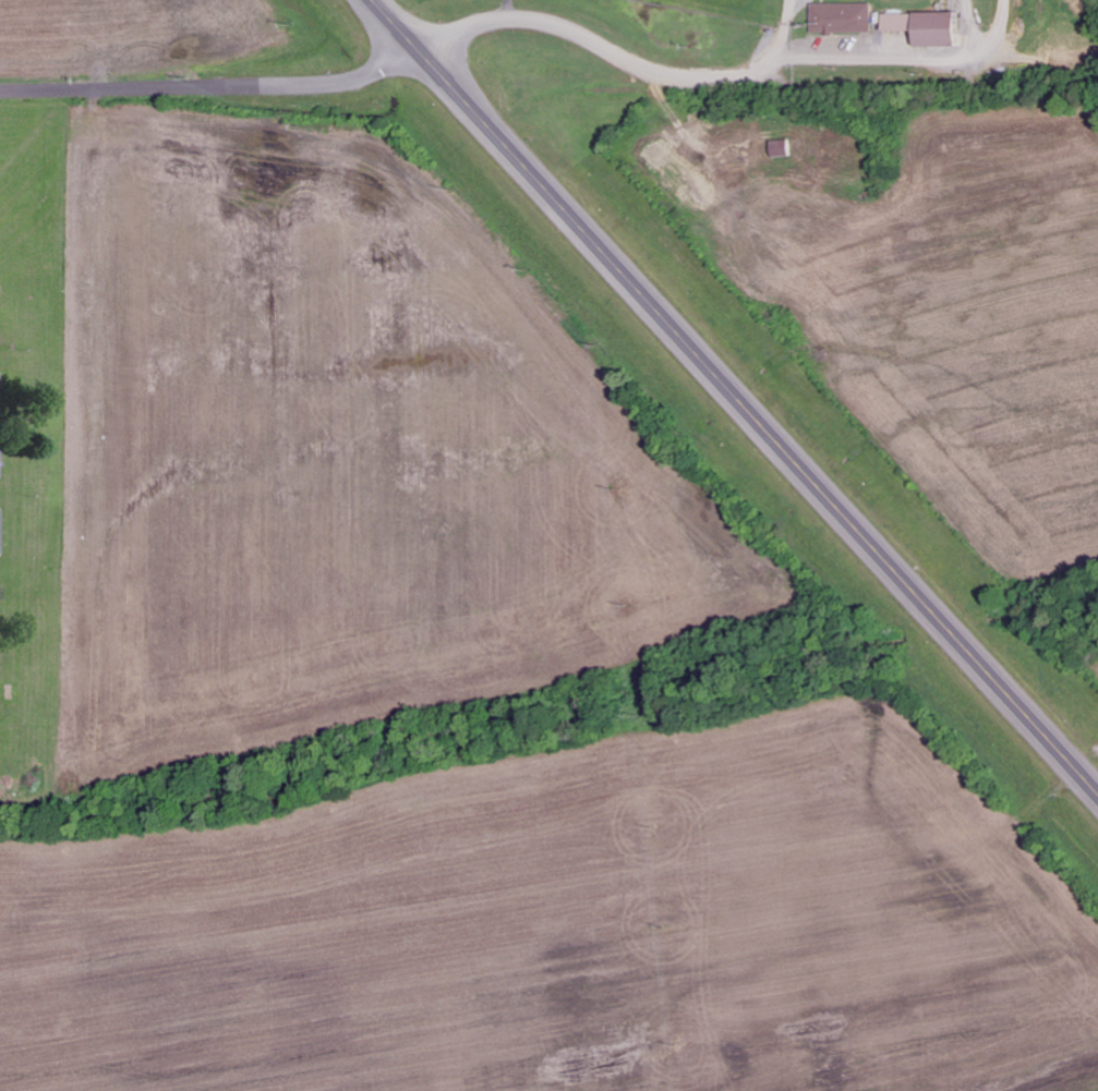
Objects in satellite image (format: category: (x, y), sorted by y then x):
building: (842, 17)
building: (922, 27)
road: (399, 63)
building: (779, 147)
road: (736, 396)
building: (0, 405)
building: (0, 464)
building: (2, 532)
building: (0, 598)

